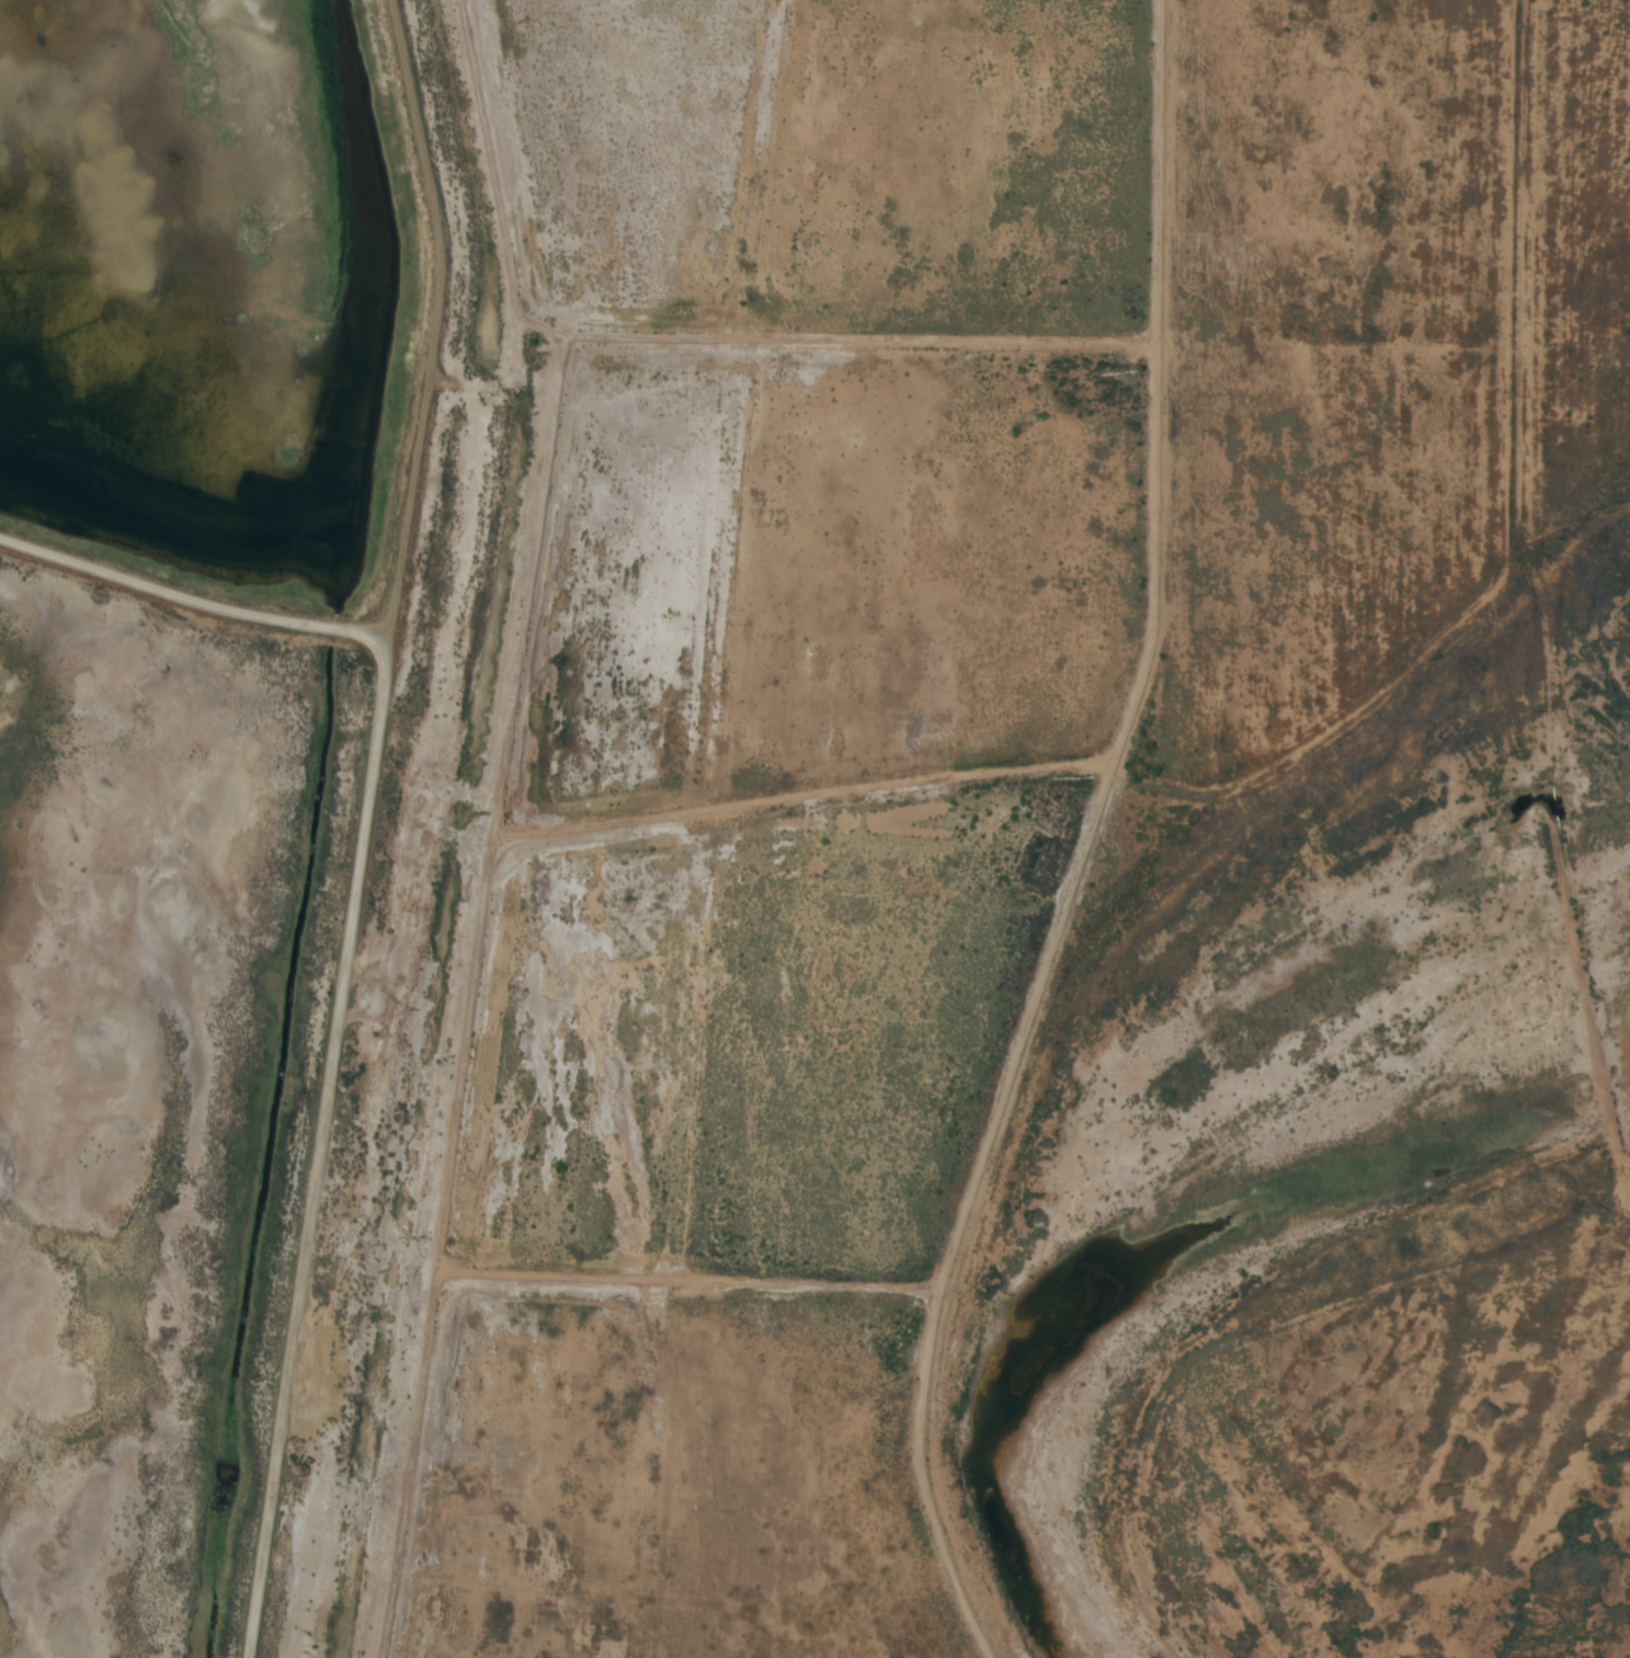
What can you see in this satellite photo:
road: (431, 323)
road: (347, 953)

